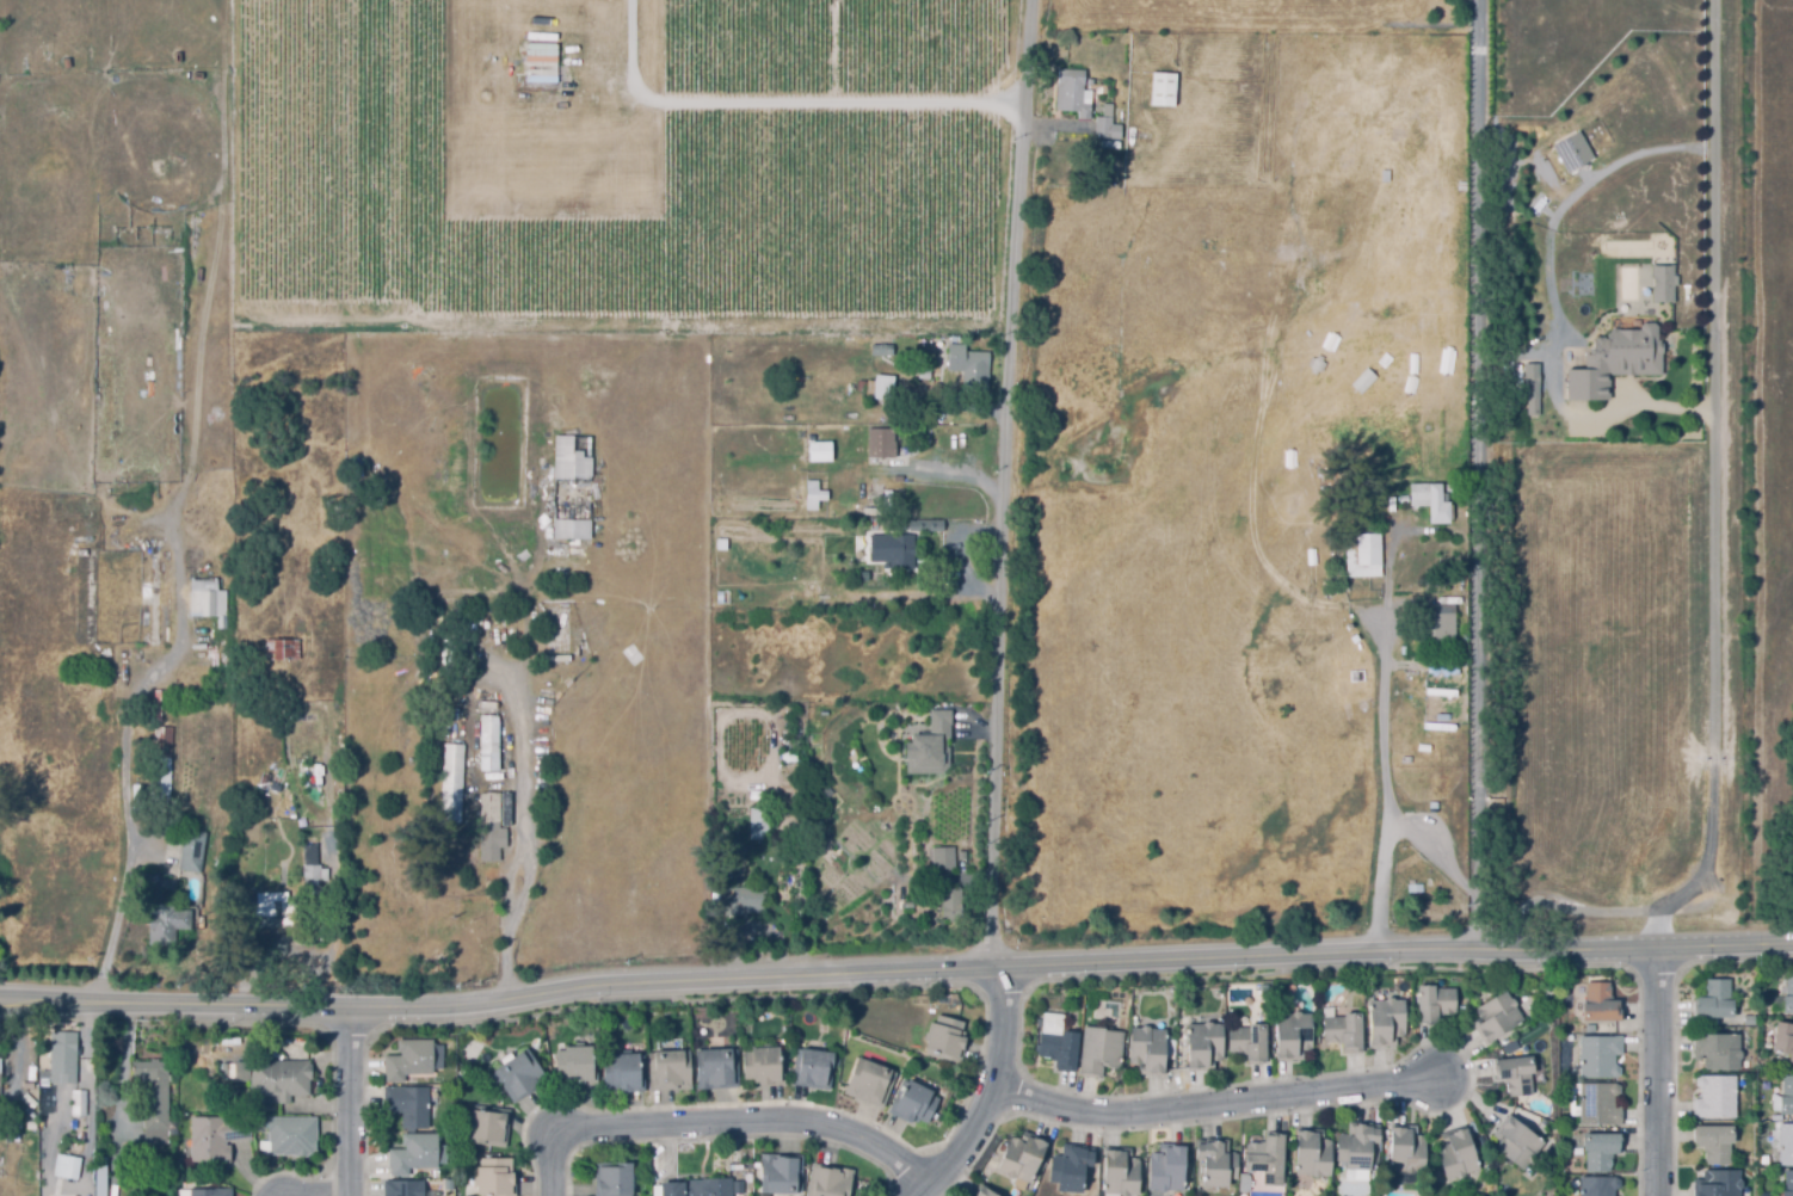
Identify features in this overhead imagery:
building: (907, 1)
building: (799, 11)
road: (971, 35)
building: (177, 53)
building: (1086, 82)
building: (1160, 91)
building: (1070, 93)
road: (787, 101)
building: (1104, 125)
building: (1571, 150)
building: (1387, 173)
building: (1464, 183)
building: (37, 271)
building: (1659, 283)
road: (1552, 298)
building: (247, 320)
building: (880, 350)
building: (1610, 360)
building: (965, 366)
building: (935, 372)
building: (922, 374)
building: (883, 386)
building: (1529, 389)
building: (883, 443)
building: (815, 451)
road: (1475, 470)
road: (1006, 483)
building: (574, 485)
building: (1659, 492)
building: (811, 495)
building: (1405, 497)
building: (880, 499)
building: (1436, 499)
building: (877, 507)
building: (929, 523)
building: (722, 541)
building: (900, 549)
road: (177, 550)
building: (1361, 556)
building: (227, 557)
road: (1715, 560)
building: (1406, 586)
building: (216, 612)
building: (1440, 623)
building: (440, 640)
building: (285, 648)
building: (440, 651)
building: (438, 666)
building: (198, 686)
building: (226, 686)
building: (825, 714)
road: (979, 728)
building: (492, 741)
building: (932, 744)
road: (1381, 745)
building: (790, 754)
building: (164, 762)
building: (454, 777)
building: (276, 785)
building: (333, 787)
building: (825, 791)
building: (141, 796)
building: (790, 816)
building: (763, 822)
building: (777, 822)
building: (493, 830)
building: (281, 836)
road: (531, 841)
building: (196, 850)
road: (1430, 851)
building: (963, 853)
building: (944, 856)
building: (969, 862)
building: (313, 870)
building: (153, 875)
building: (215, 892)
building: (747, 900)
building: (955, 901)
building: (279, 913)
building: (170, 923)
building: (195, 962)
road: (895, 973)
building: (1246, 993)
building: (1788, 998)
building: (1714, 1000)
building: (1598, 1003)
building: (1435, 1004)
building: (1497, 1017)
building: (1749, 1018)
building: (1387, 1022)
building: (1344, 1032)
building: (1294, 1035)
building: (945, 1040)
building: (1783, 1040)
building: (1250, 1042)
building: (1204, 1046)
building: (1512, 1047)
building: (1059, 1049)
building: (1148, 1049)
building: (1101, 1050)
building: (1718, 1050)
building: (61, 1056)
building: (1600, 1056)
building: (409, 1060)
building: (578, 1065)
building: (764, 1066)
building: (714, 1068)
building: (670, 1069)
building: (814, 1069)
road: (1659, 1072)
building: (624, 1073)
building: (1515, 1074)
building: (29, 1075)
building: (520, 1075)
building: (277, 1077)
building: (870, 1081)
road: (1000, 1095)
building: (1715, 1096)
building: (1786, 1096)
building: (155, 1101)
building: (78, 1102)
road: (350, 1103)
building: (913, 1103)
building: (1600, 1104)
building: (408, 1105)
road: (1221, 1106)
road: (753, 1121)
building: (491, 1126)
building: (292, 1135)
building: (216, 1138)
building: (1517, 1142)
building: (1714, 1143)
building: (1786, 1145)
building: (1358, 1146)
building: (1406, 1151)
building: (1600, 1151)
building: (414, 1153)
building: (1456, 1153)
building: (1312, 1154)
building: (1021, 1157)
building: (1267, 1159)
road: (554, 1161)
building: (1218, 1161)
building: (70, 1165)
building: (1070, 1169)
building: (1167, 1169)
building: (1121, 1171)
building: (782, 1173)
building: (99, 1176)
building: (497, 1177)
building: (615, 1178)
building: (830, 1180)
building: (1718, 1183)
building: (1788, 1183)
building: (707, 1186)
building: (1598, 1186)
building: (405, 1188)
building: (982, 1191)
building: (211, 1192)

